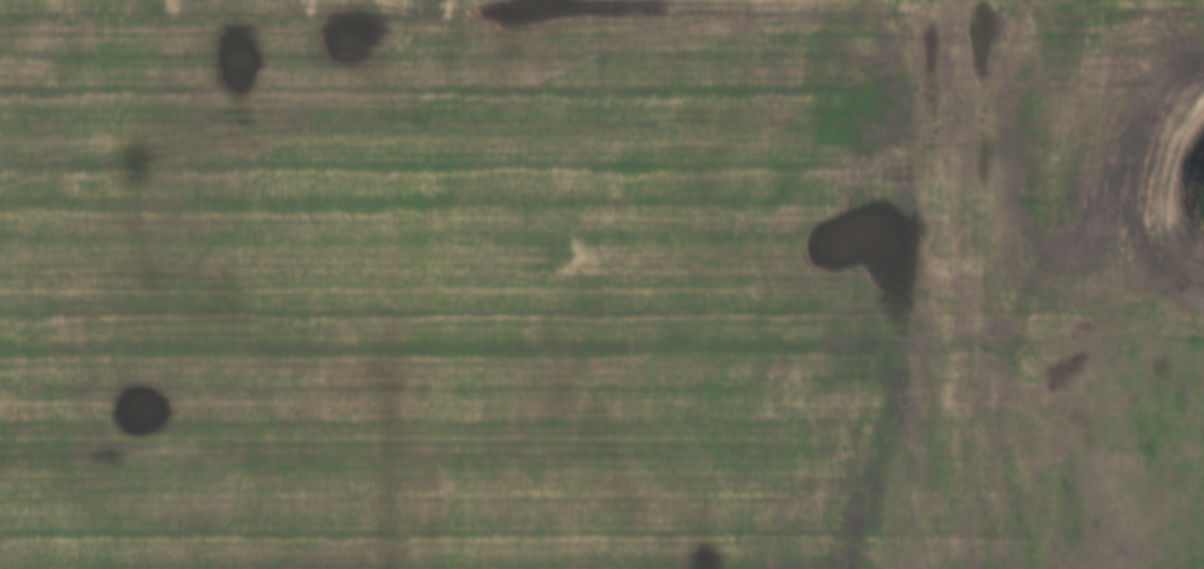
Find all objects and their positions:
road: (964, 289)

